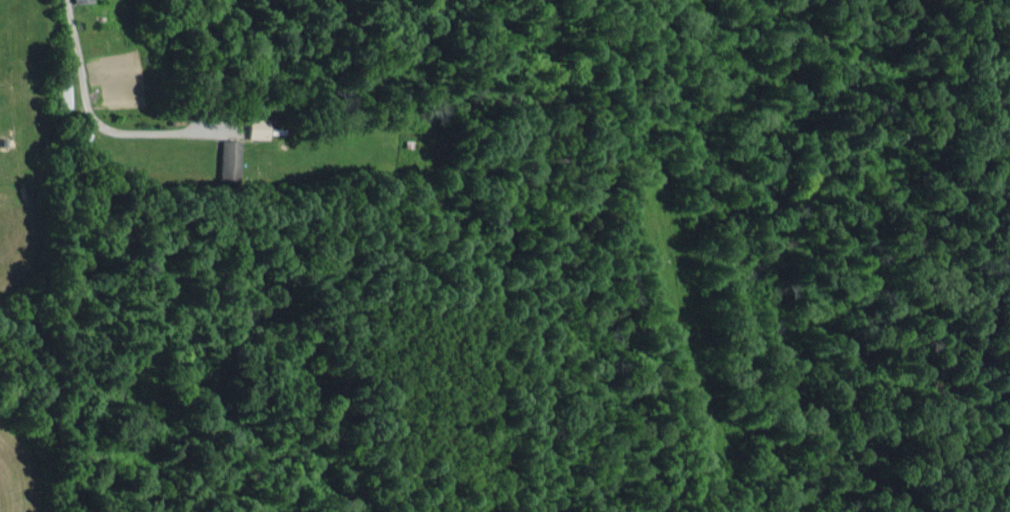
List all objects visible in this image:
building: (79, 0)
building: (256, 128)
building: (227, 159)

